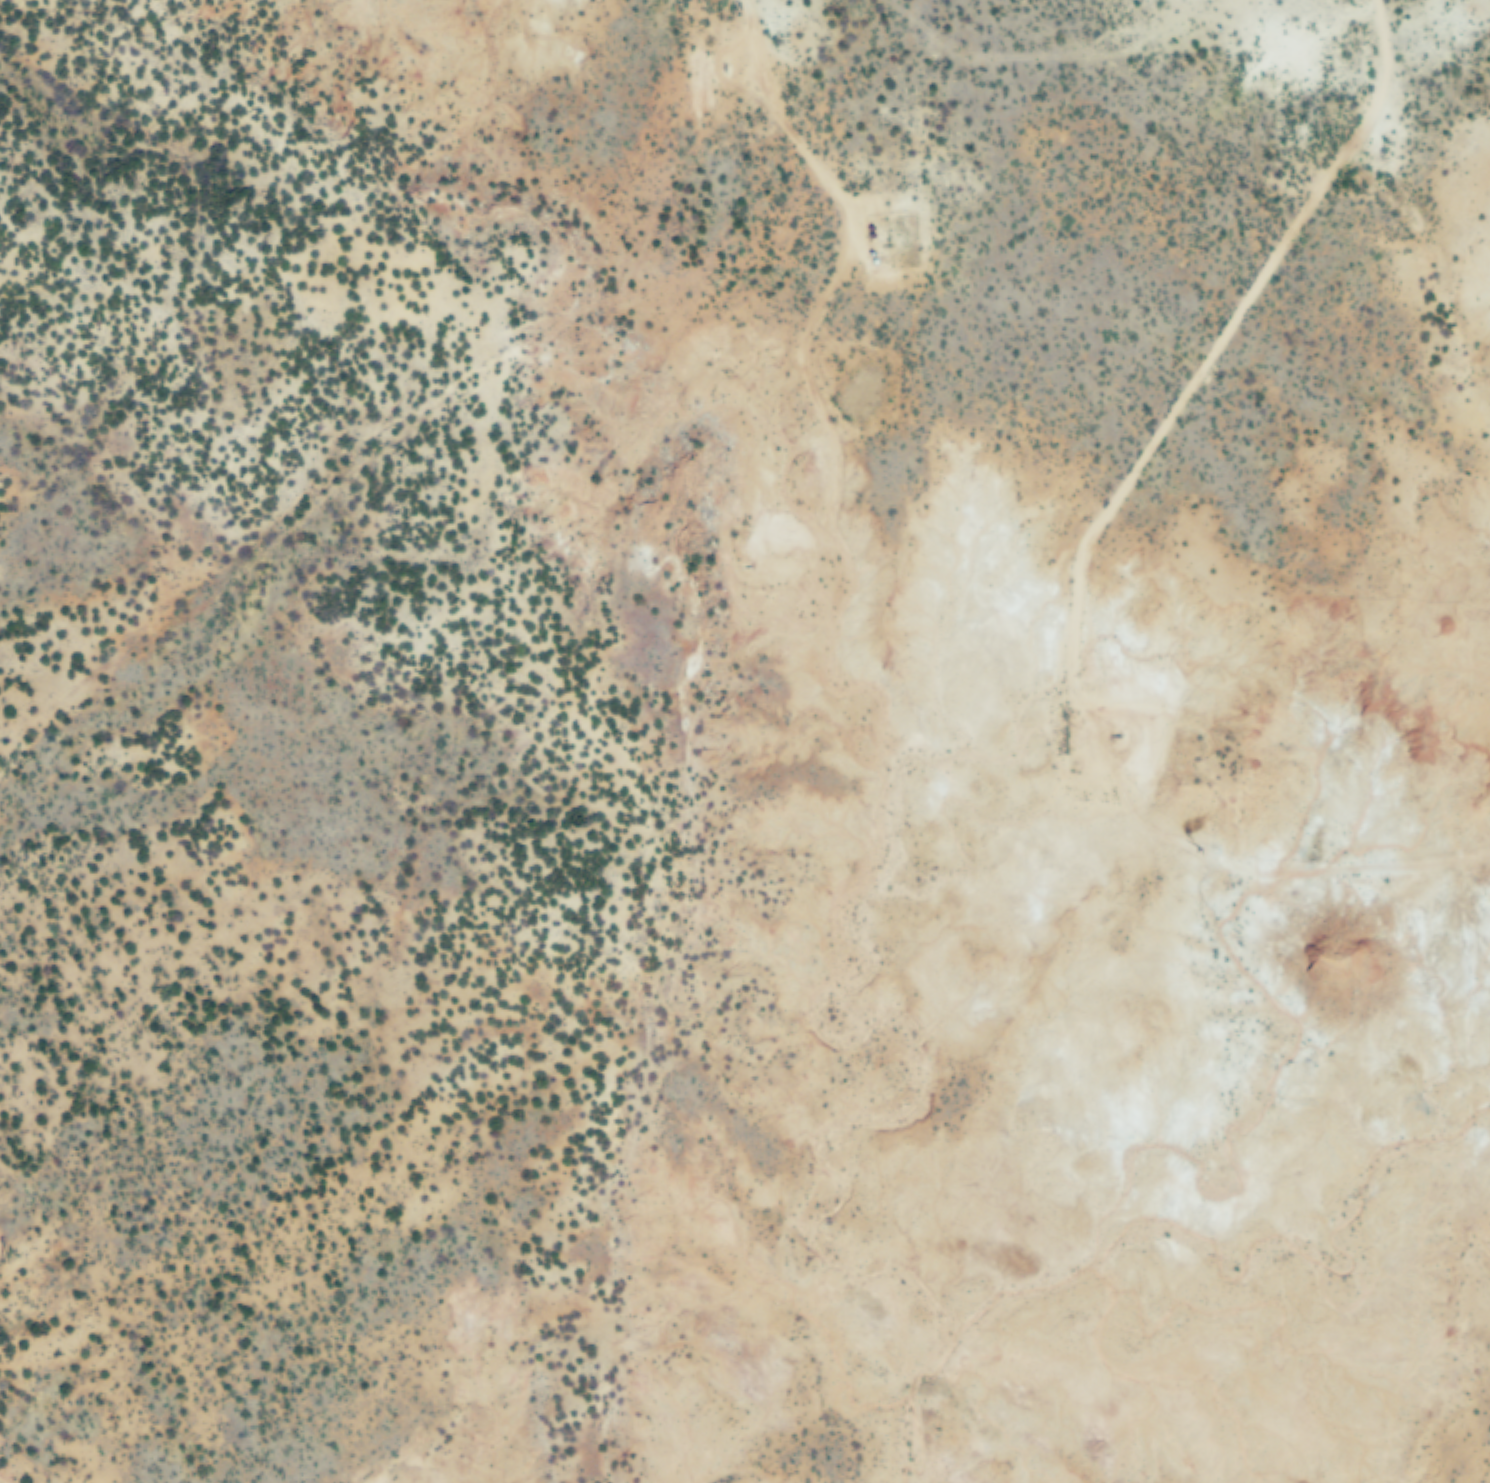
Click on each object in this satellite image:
road: (1385, 74)
road: (856, 171)

